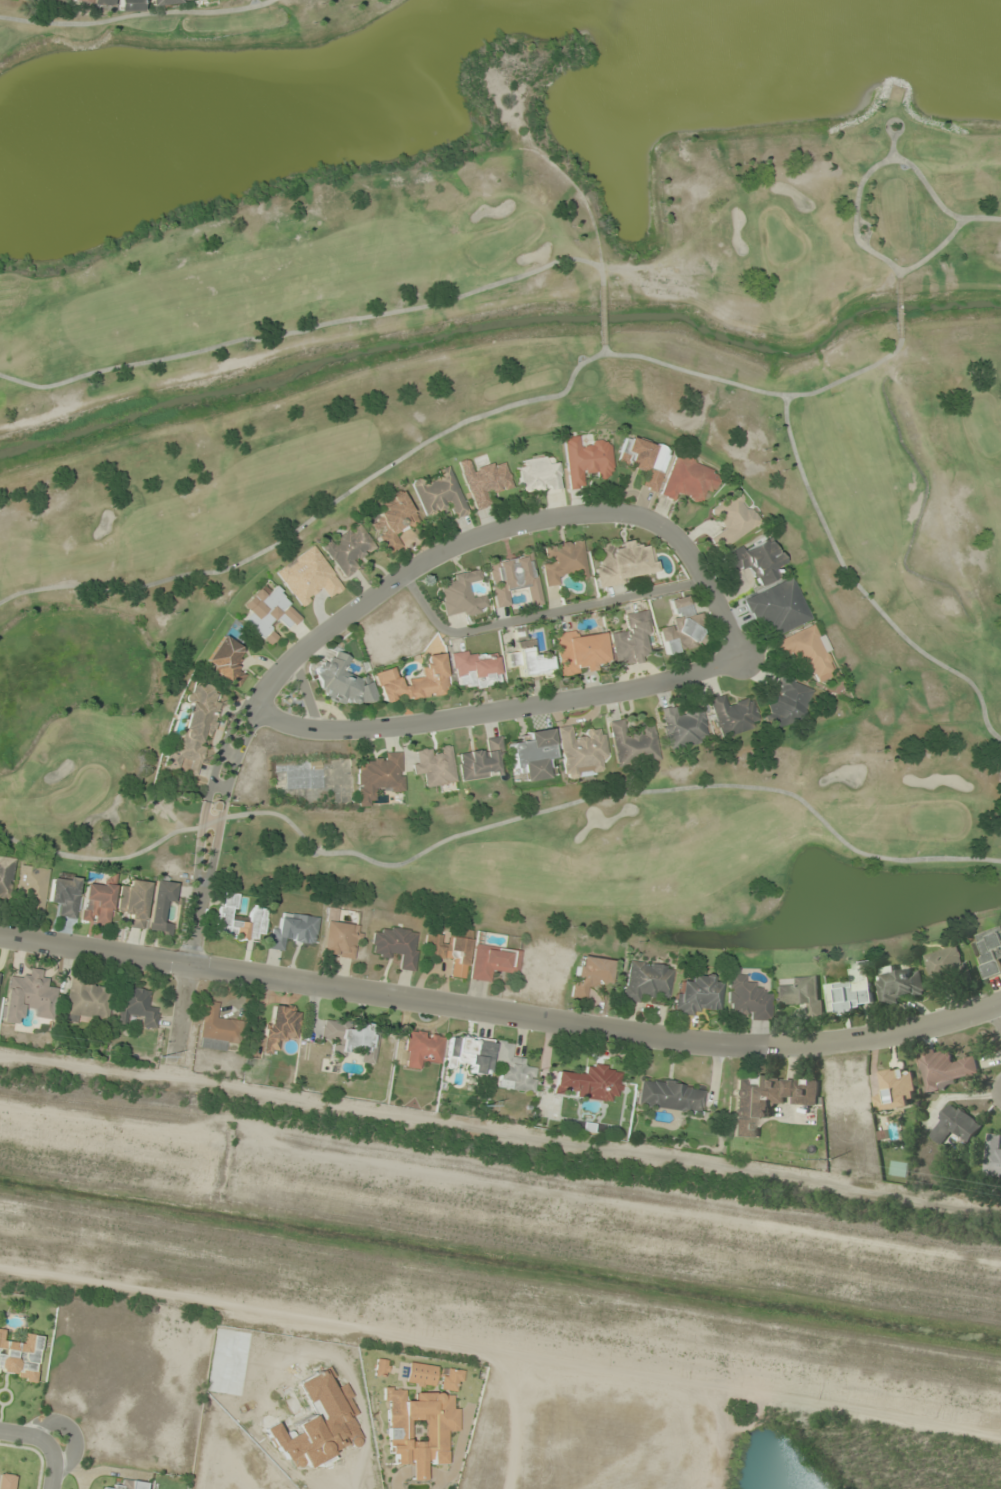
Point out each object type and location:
building: (57, 0)
building: (202, 0)
building: (91, 2)
building: (165, 2)
building: (129, 5)
building: (584, 460)
building: (644, 460)
building: (537, 474)
building: (482, 481)
building: (688, 481)
building: (438, 494)
road: (618, 510)
building: (731, 519)
building: (391, 520)
building: (346, 548)
building: (754, 560)
building: (563, 561)
building: (624, 561)
building: (307, 576)
building: (512, 578)
building: (459, 594)
building: (776, 608)
building: (267, 612)
road: (537, 615)
building: (680, 627)
building: (629, 640)
building: (804, 651)
building: (577, 652)
building: (225, 660)
building: (527, 662)
building: (473, 670)
building: (341, 680)
building: (413, 681)
building: (785, 704)
building: (732, 714)
building: (682, 726)
building: (193, 729)
building: (632, 744)
building: (580, 751)
building: (531, 755)
building: (480, 761)
building: (435, 768)
building: (377, 777)
building: (6, 876)
building: (31, 887)
building: (63, 895)
building: (97, 901)
building: (131, 902)
building: (159, 907)
building: (238, 919)
building: (291, 931)
building: (338, 939)
building: (394, 946)
building: (448, 949)
building: (990, 951)
building: (492, 961)
building: (945, 964)
building: (589, 974)
building: (645, 981)
building: (902, 984)
building: (852, 990)
building: (695, 994)
building: (802, 994)
building: (27, 997)
building: (747, 997)
building: (86, 1001)
building: (135, 1005)
road: (181, 1008)
road: (501, 1012)
building: (280, 1025)
building: (215, 1028)
building: (349, 1039)
building: (421, 1049)
building: (470, 1053)
building: (946, 1067)
building: (512, 1069)
building: (587, 1083)
building: (896, 1089)
building: (670, 1096)
building: (767, 1099)
building: (955, 1125)
road: (610, 1153)
building: (994, 1154)
building: (19, 1357)
building: (378, 1368)
building: (417, 1374)
building: (448, 1379)
road: (69, 1427)
building: (417, 1429)
road: (25, 1434)
road: (49, 1467)
building: (128, 1485)

